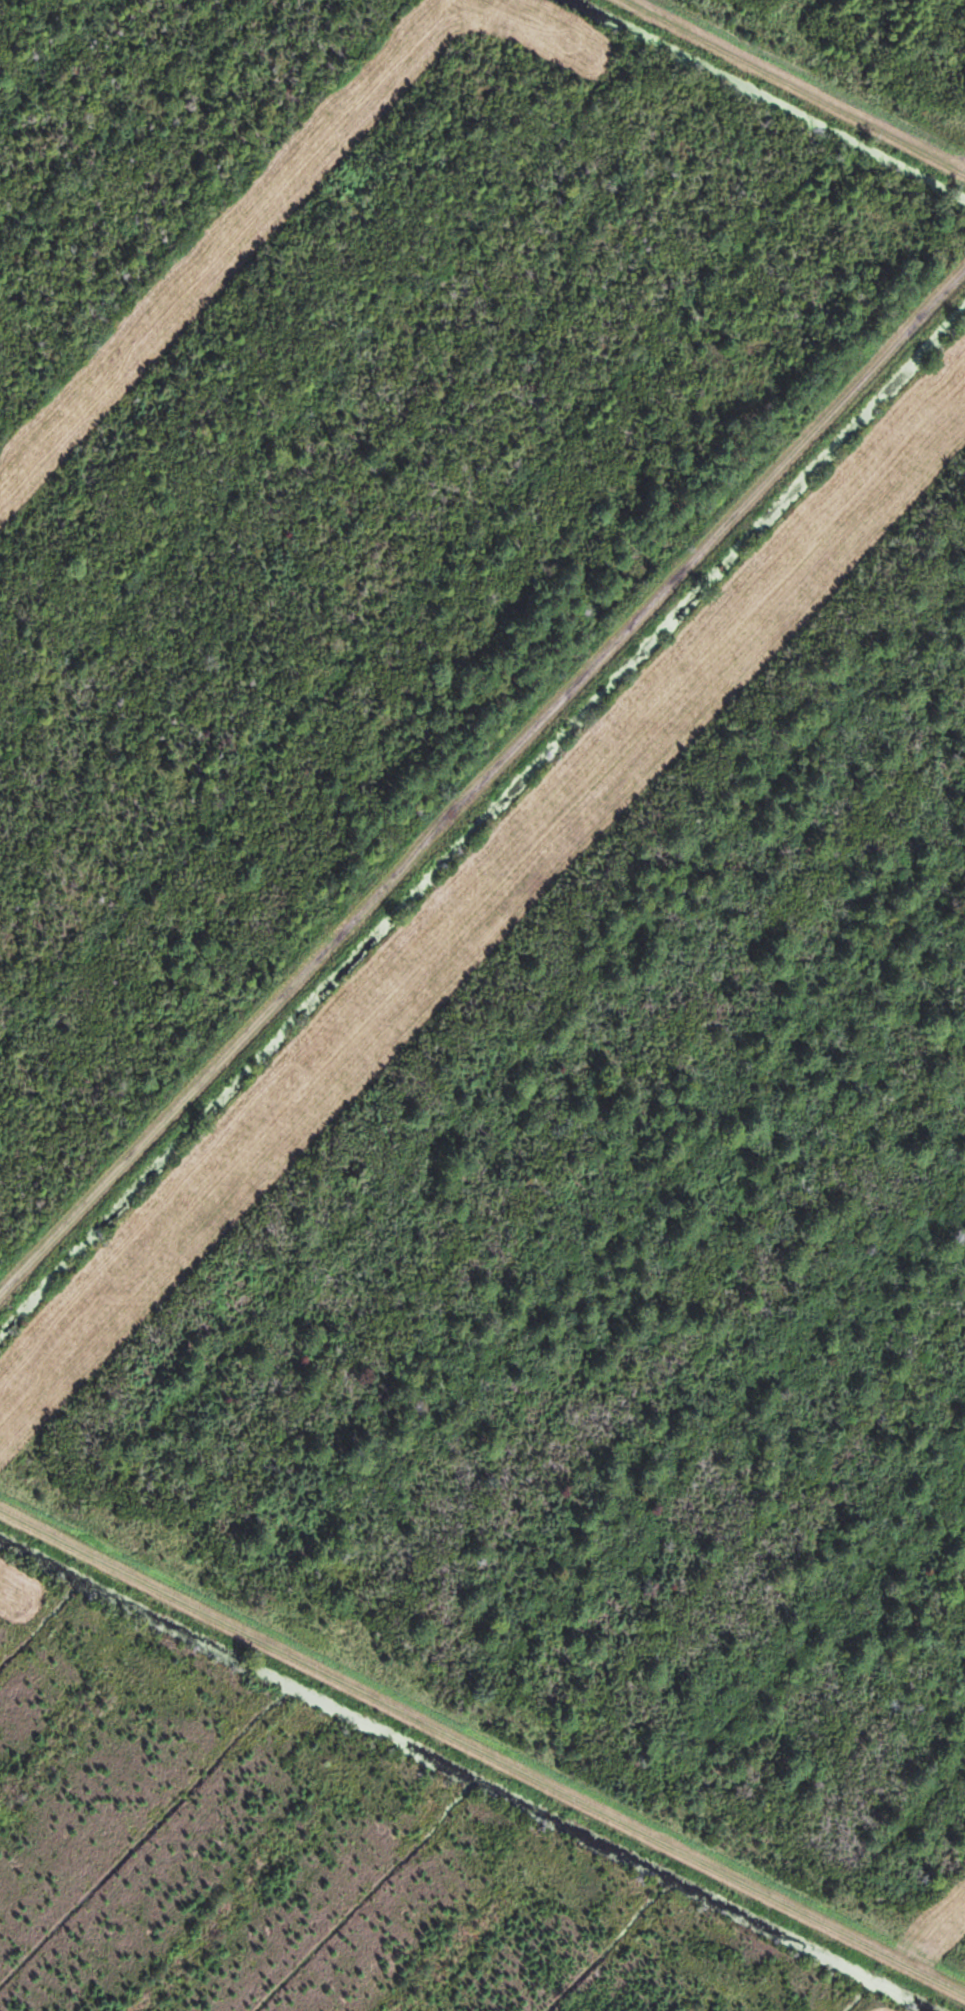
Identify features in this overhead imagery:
road: (796, 87)
road: (481, 778)
road: (481, 1763)

